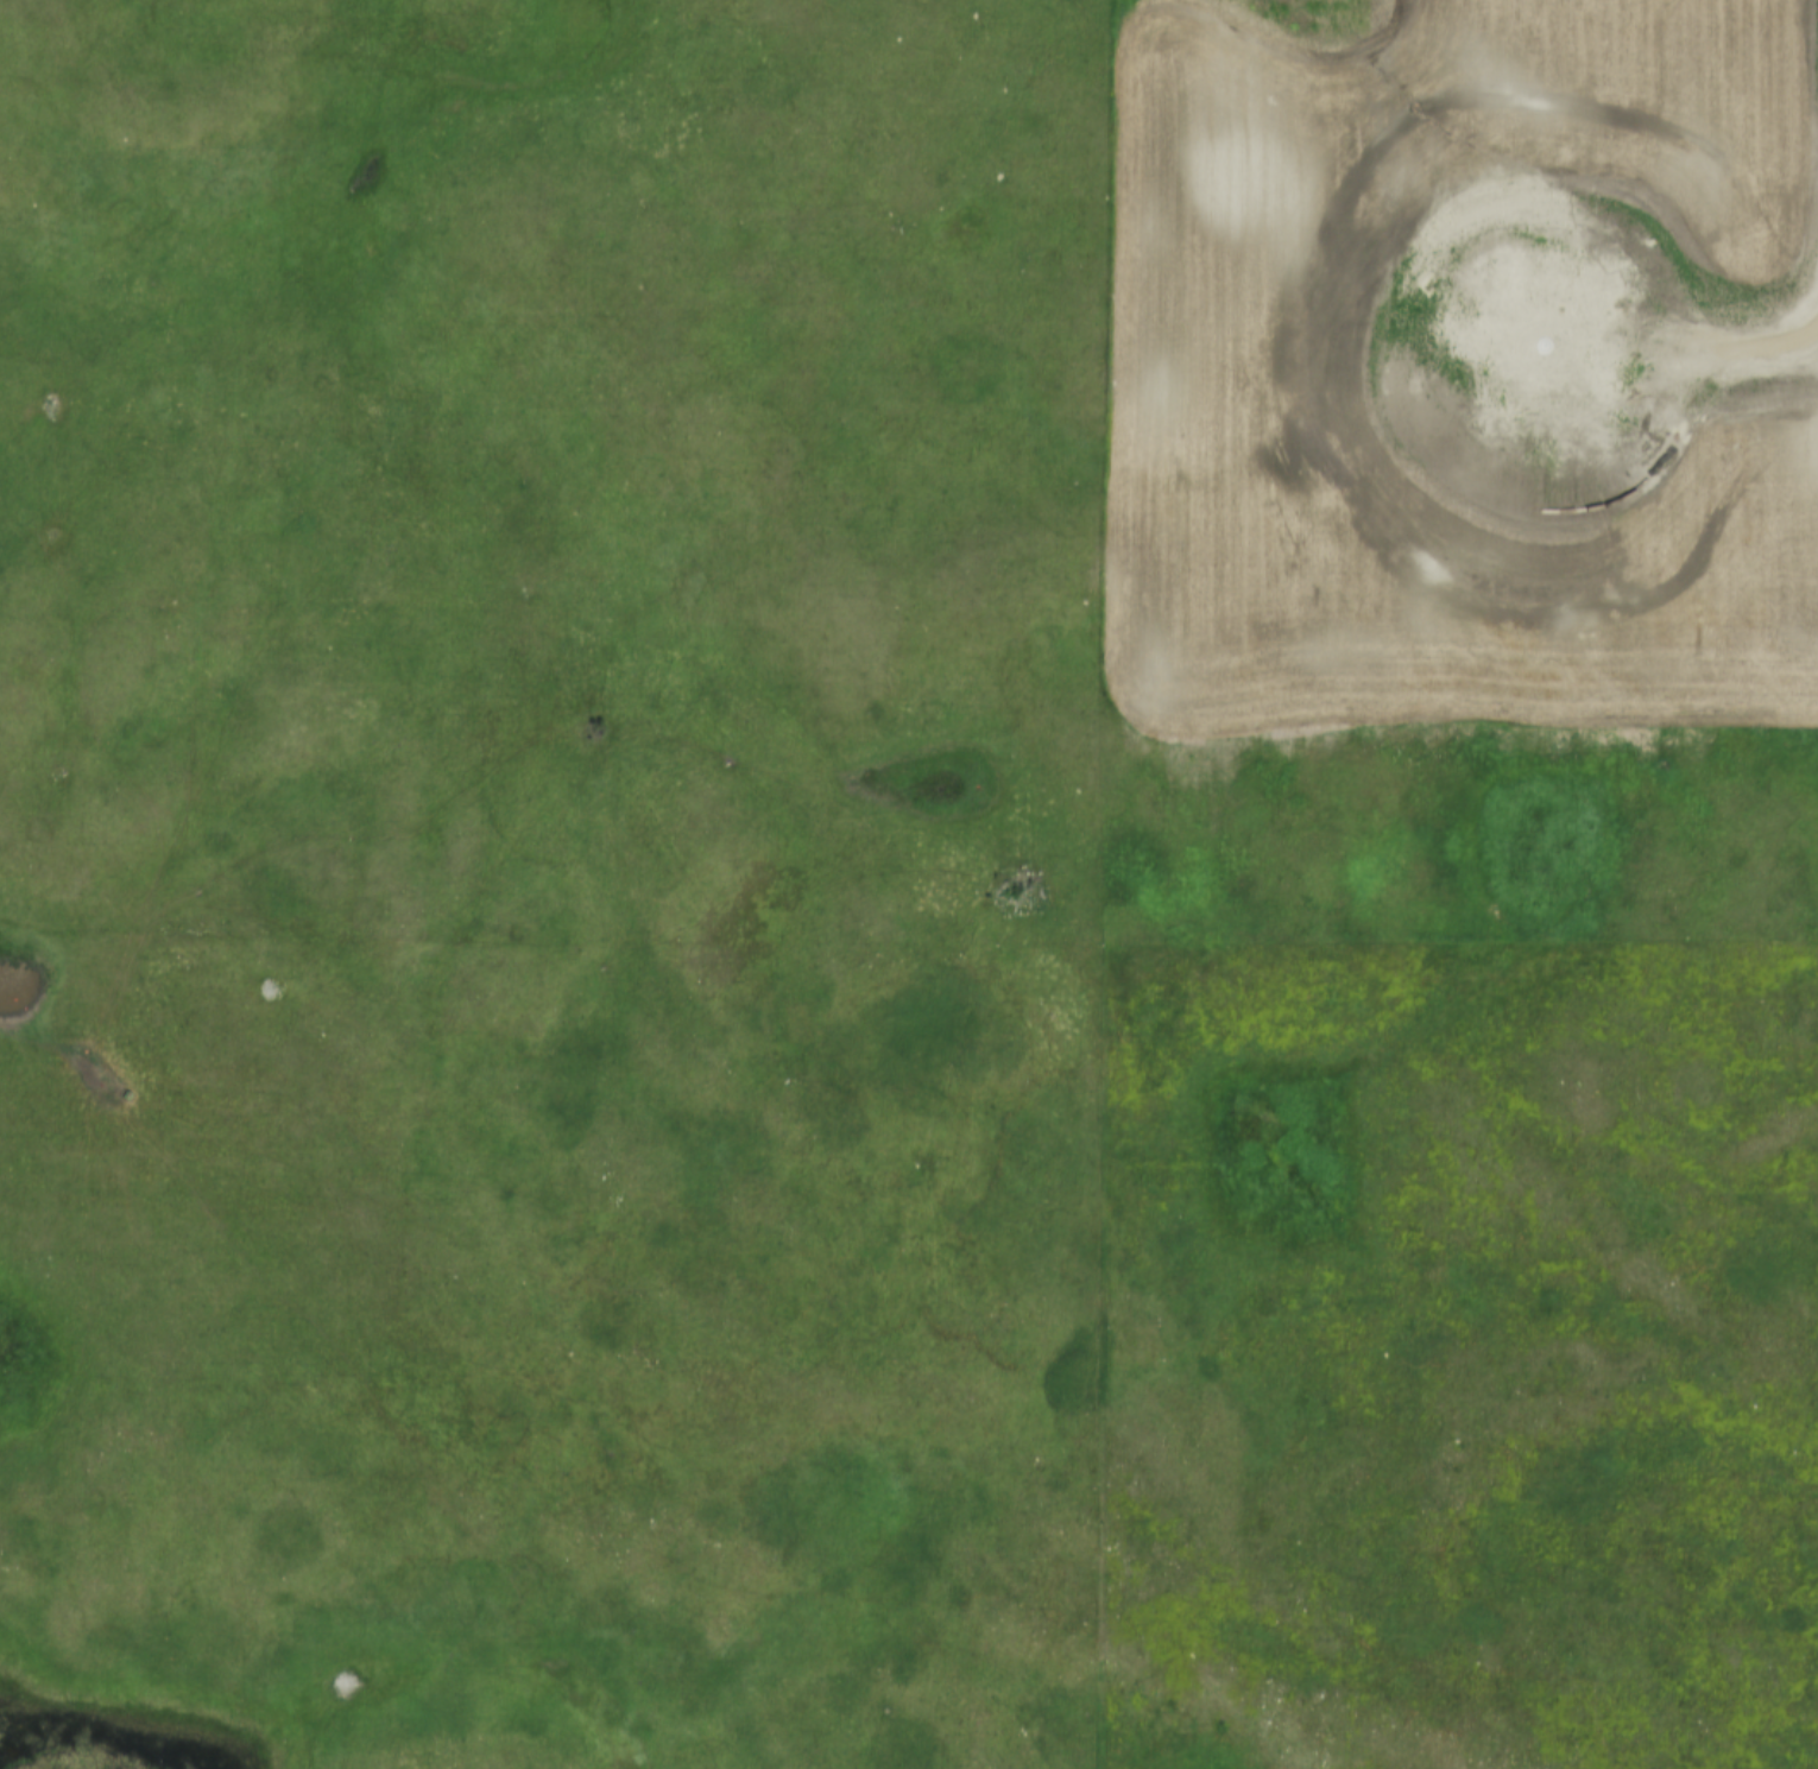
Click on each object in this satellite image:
wind turbine: (1558, 346)

